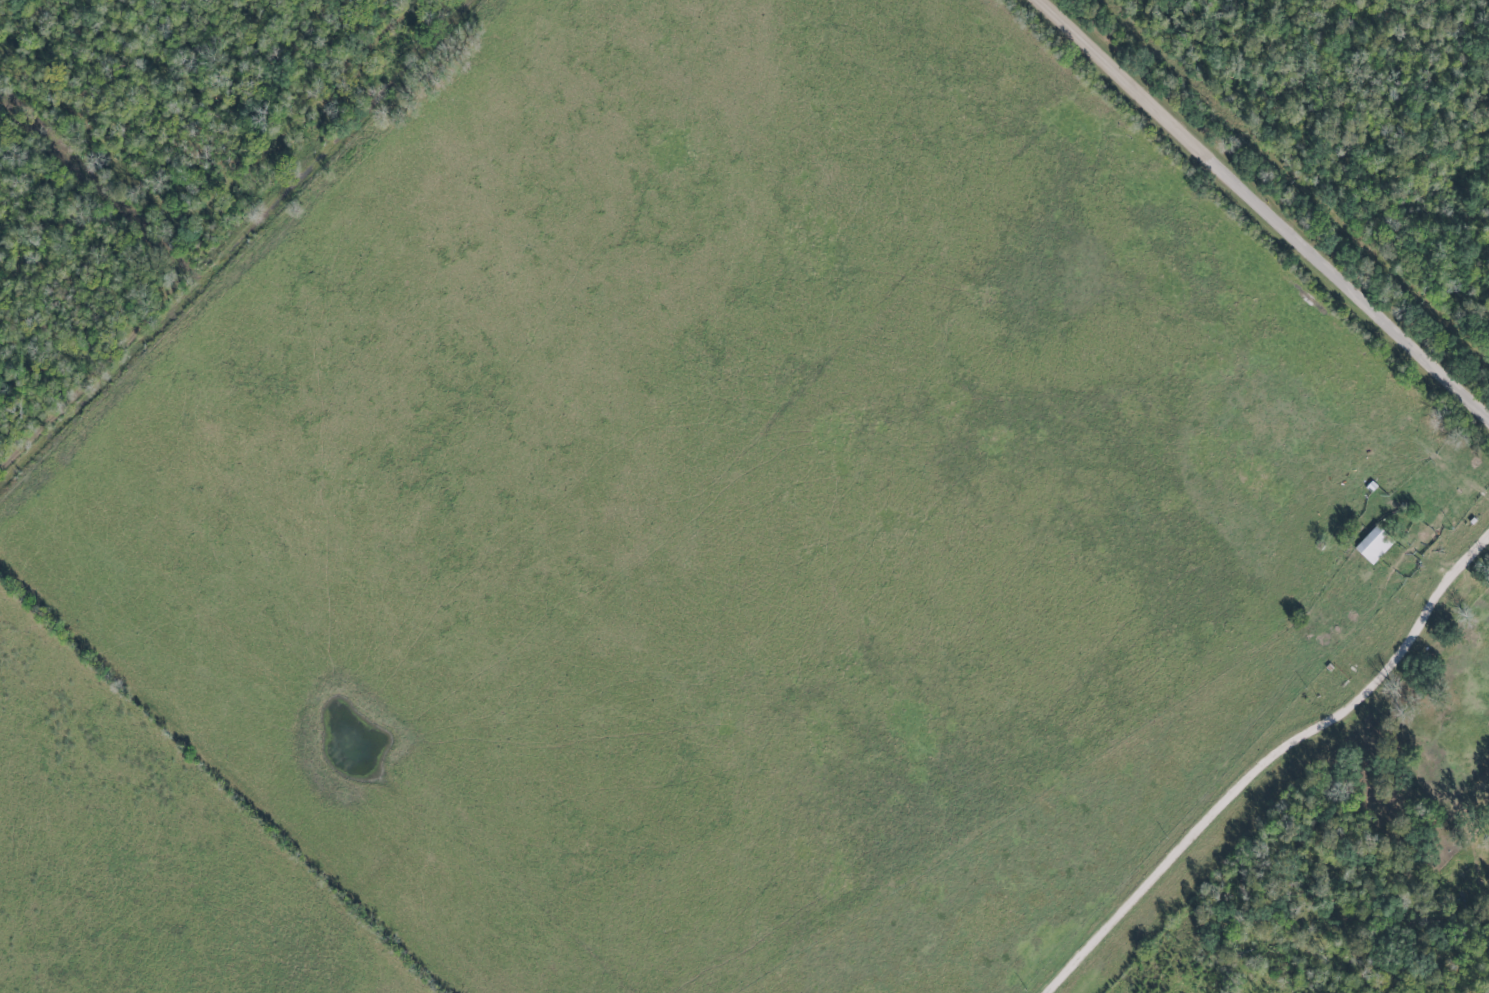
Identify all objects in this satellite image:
road: (1264, 207)
building: (1375, 544)
road: (1269, 763)

